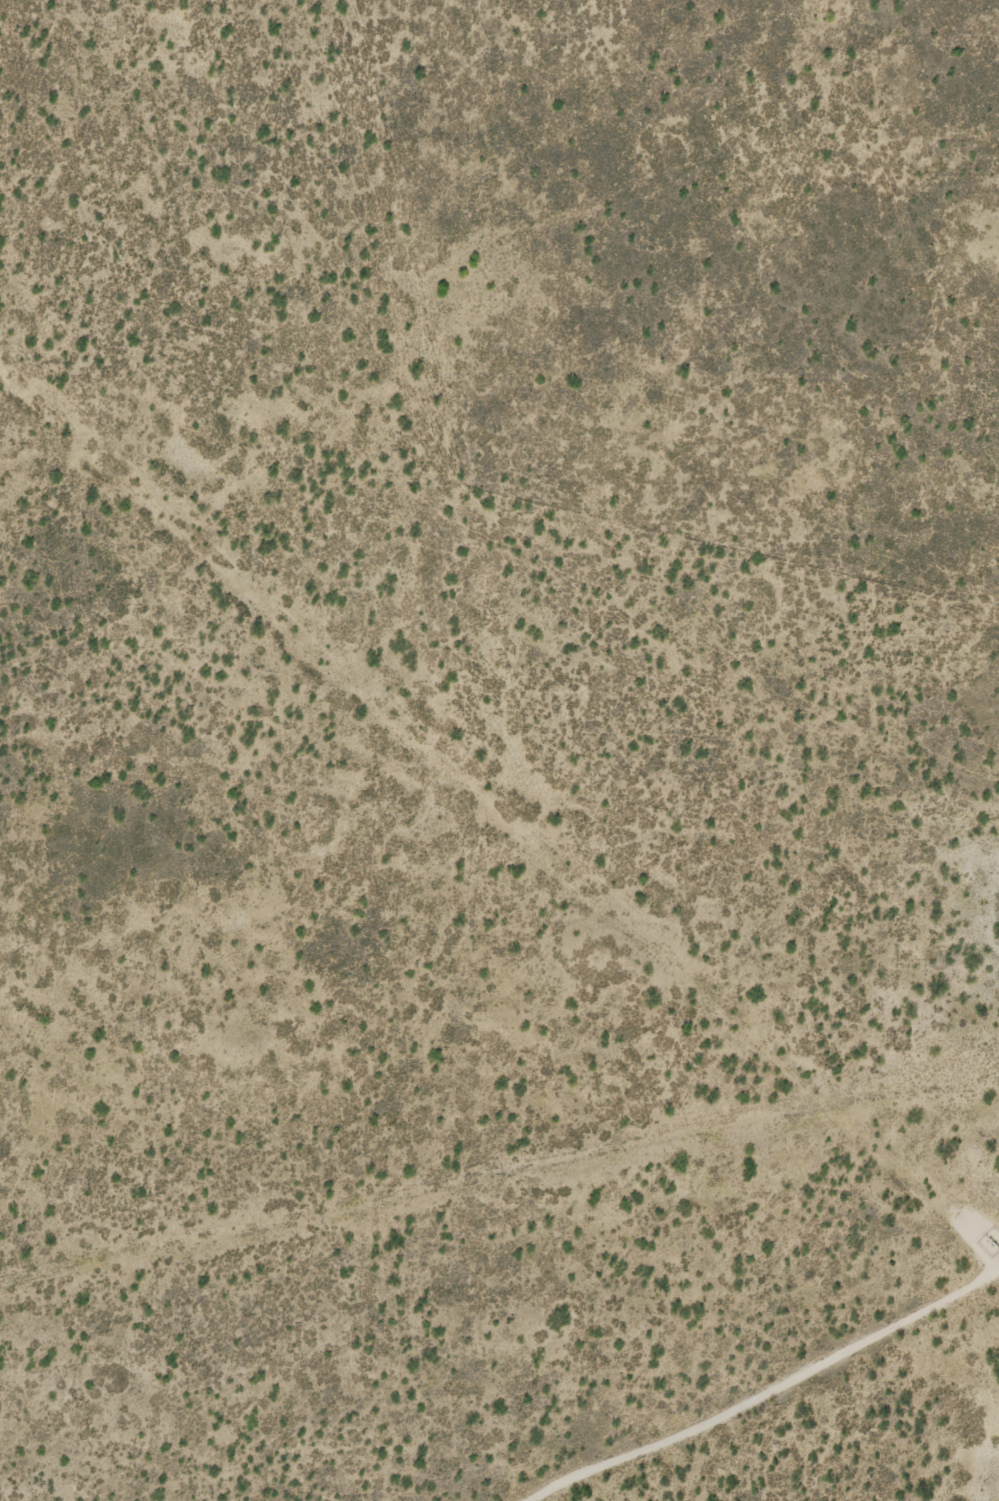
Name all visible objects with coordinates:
road: (770, 1383)

